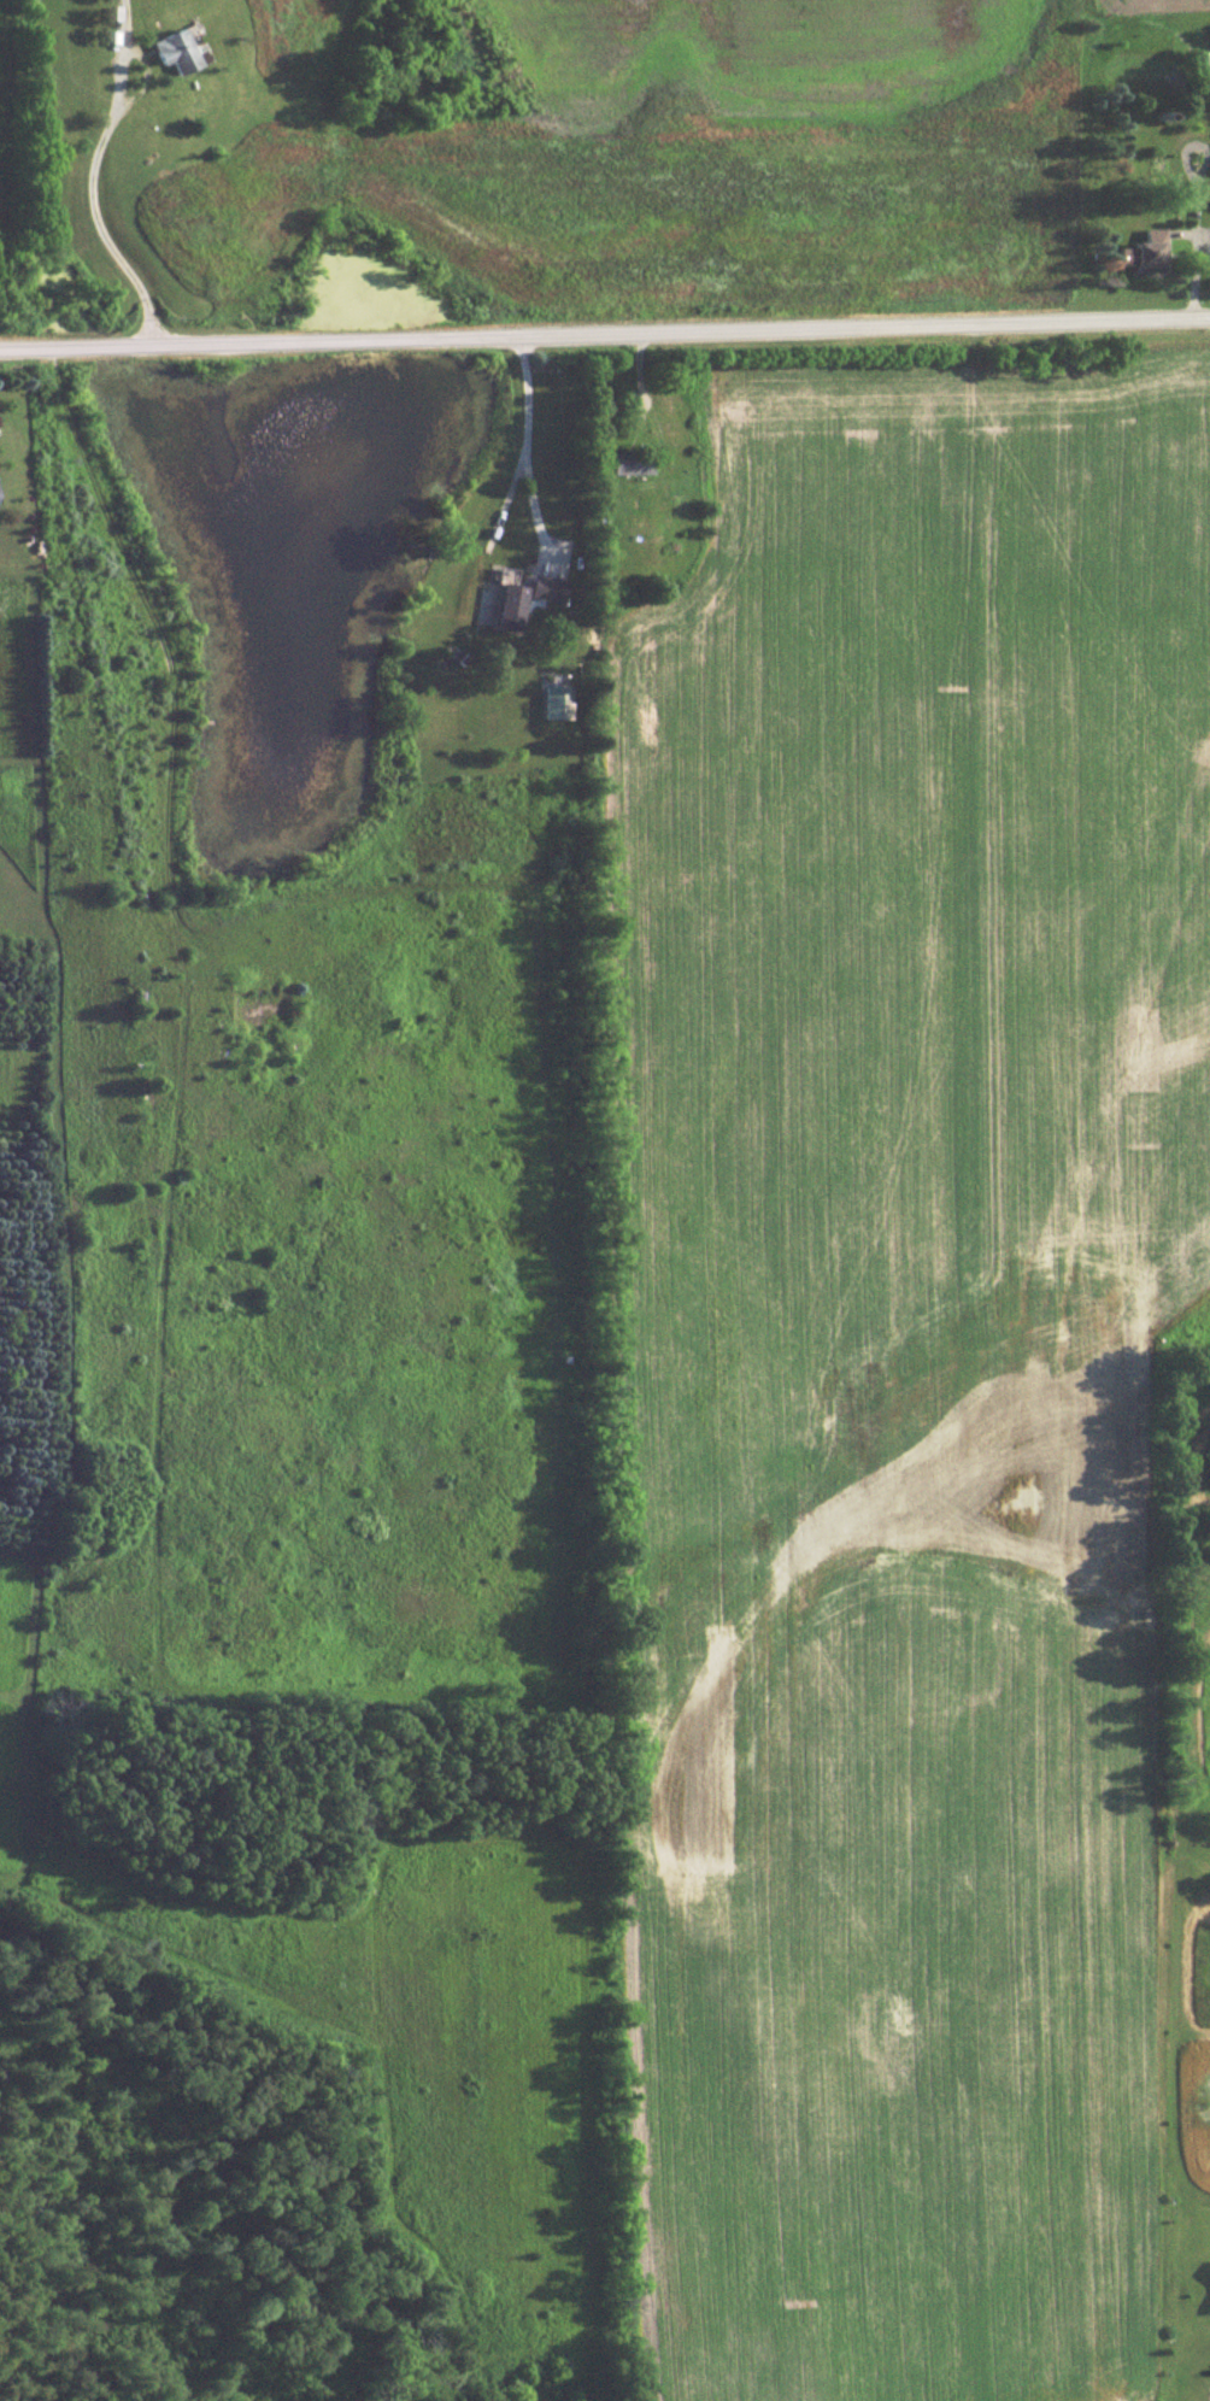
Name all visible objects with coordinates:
building: (181, 49)
building: (1145, 250)
road: (605, 336)
building: (630, 462)
building: (546, 586)
building: (507, 598)
building: (556, 700)

